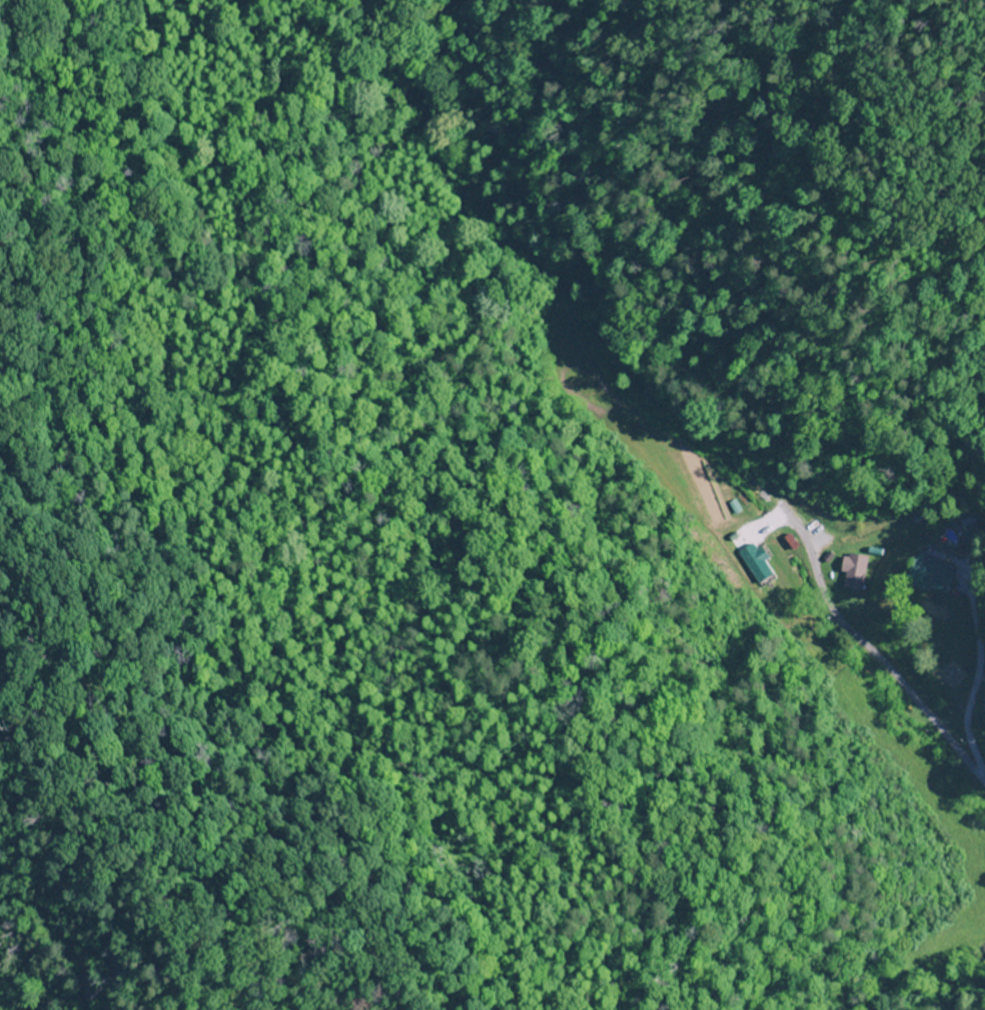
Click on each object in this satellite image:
building: (852, 573)
building: (926, 574)
road: (881, 674)

